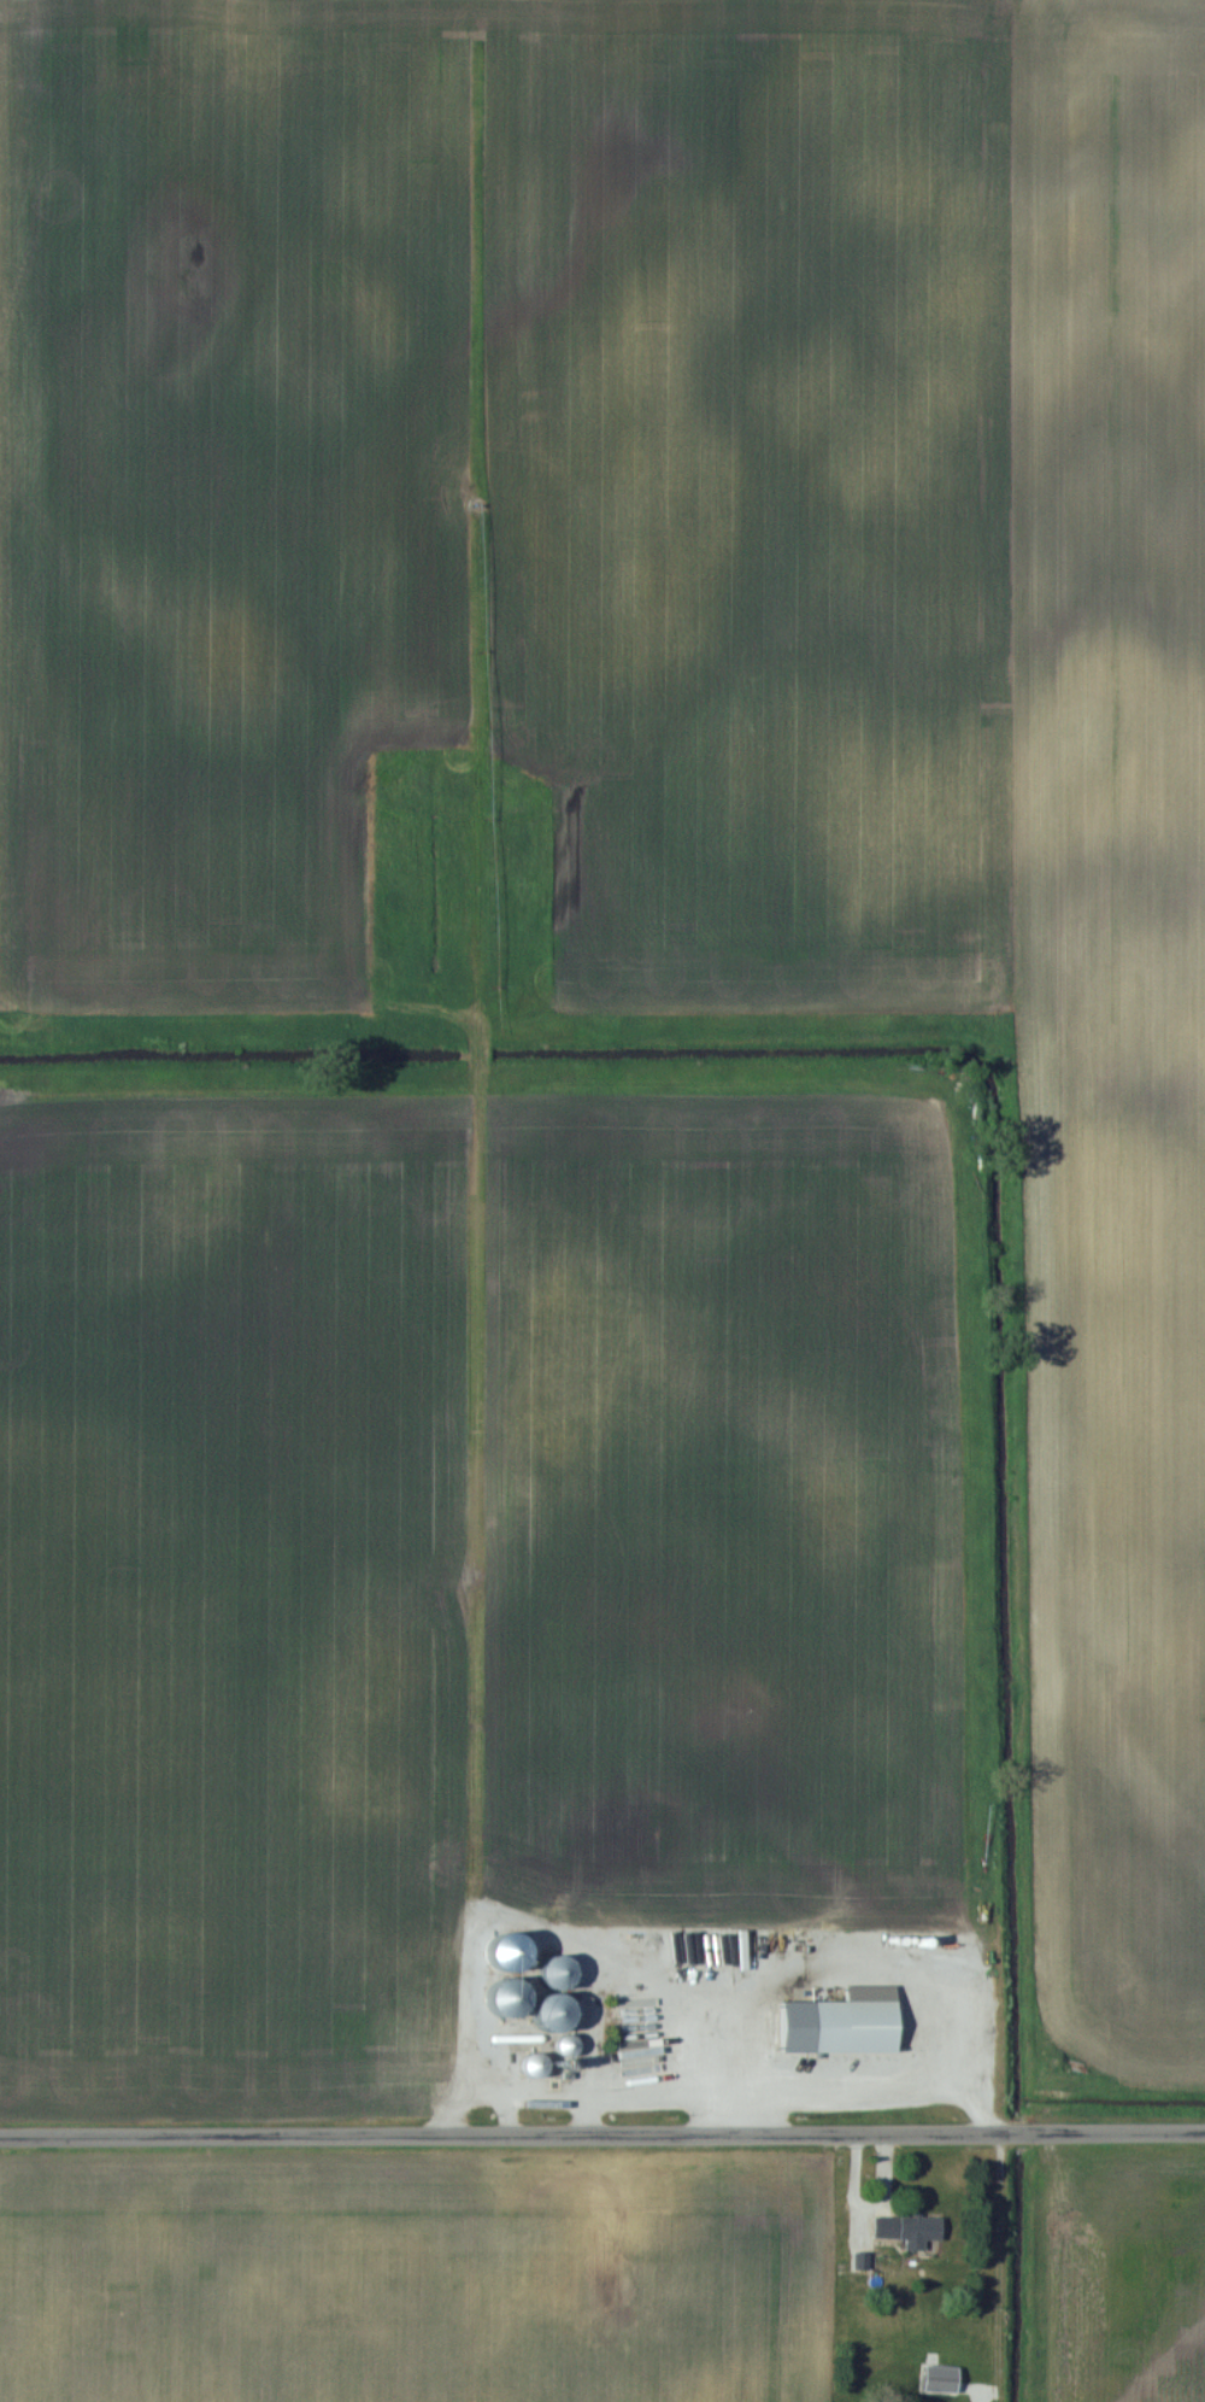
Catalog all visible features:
building: (552, 1972)
building: (546, 2013)
building: (839, 2022)
building: (566, 2049)
building: (530, 2064)
road: (1101, 2127)
road: (500, 2131)
building: (906, 2230)
building: (947, 2380)

